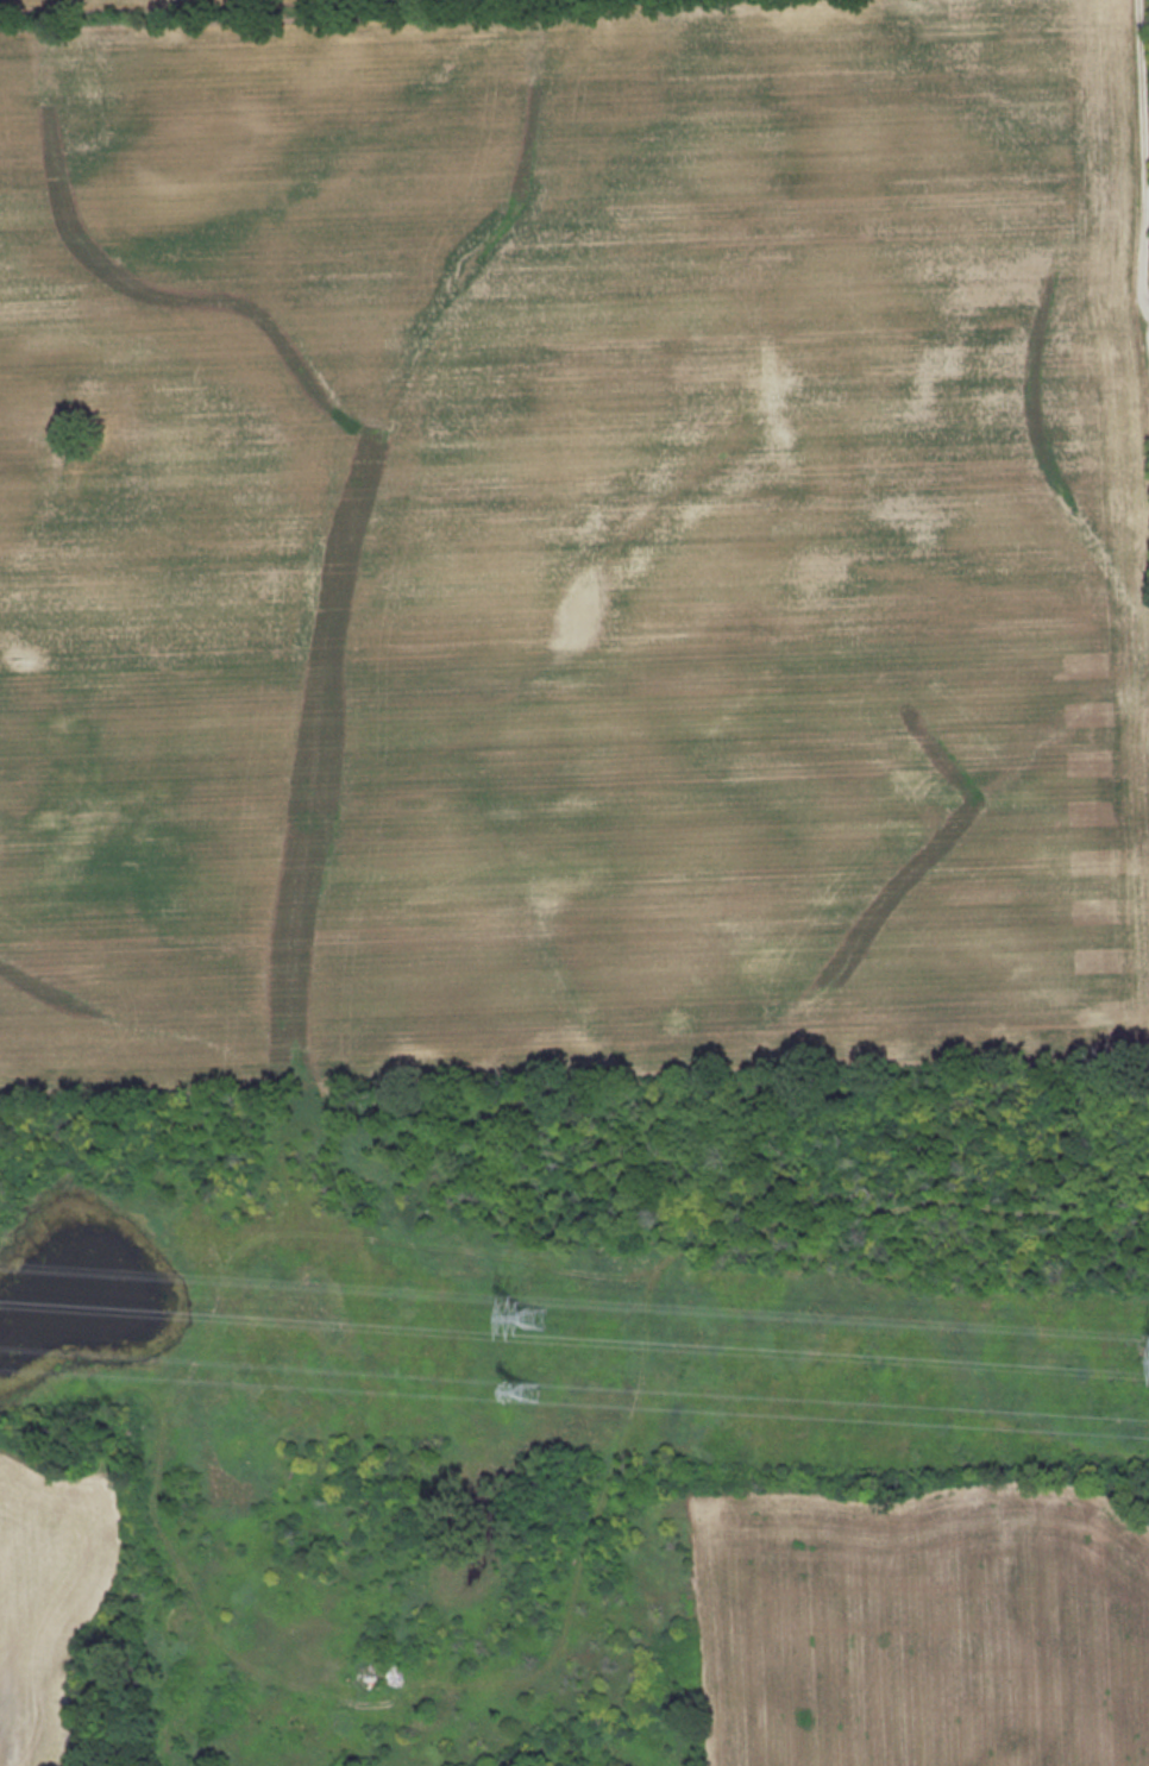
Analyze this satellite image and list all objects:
power tower: (534, 1315)
power tower: (528, 1390)

